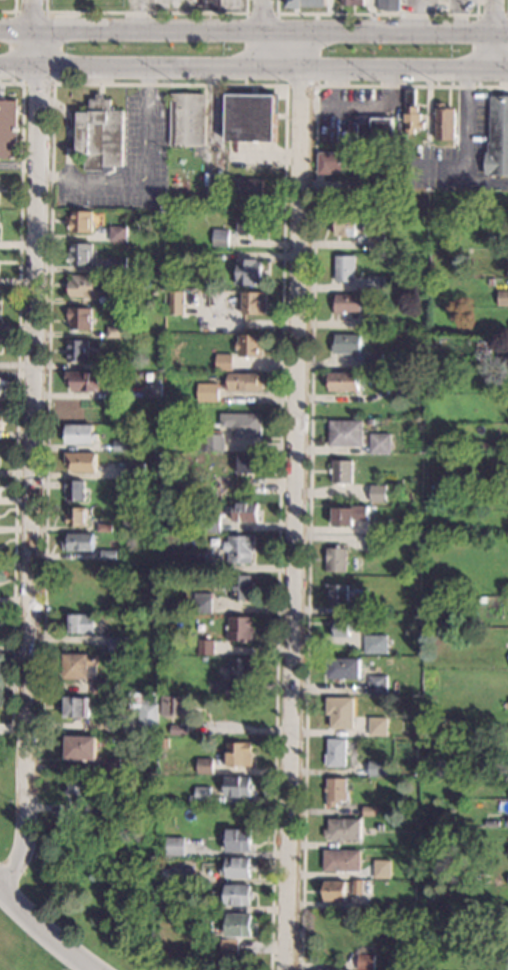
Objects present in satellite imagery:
building: (294, 1)
building: (353, 2)
building: (209, 4)
building: (389, 5)
road: (13, 10)
road: (45, 12)
road: (145, 12)
road: (376, 14)
road: (36, 15)
road: (254, 30)
road: (244, 33)
road: (264, 34)
road: (477, 35)
road: (494, 35)
road: (317, 65)
road: (254, 68)
road: (285, 86)
building: (411, 111)
building: (248, 114)
building: (187, 119)
building: (444, 121)
building: (374, 127)
building: (498, 128)
building: (7, 129)
road: (68, 130)
building: (99, 136)
road: (464, 143)
parking lot: (455, 150)
building: (336, 161)
parking lot: (126, 163)
road: (20, 165)
road: (144, 179)
building: (246, 186)
building: (360, 187)
building: (80, 221)
building: (346, 224)
building: (249, 225)
building: (117, 233)
building: (220, 237)
building: (490, 239)
building: (507, 241)
building: (375, 242)
building: (80, 253)
building: (117, 264)
building: (507, 266)
building: (344, 268)
building: (247, 271)
building: (489, 282)
building: (374, 283)
building: (495, 283)
building: (81, 286)
building: (502, 298)
building: (114, 300)
building: (253, 302)
building: (173, 303)
building: (346, 303)
building: (79, 318)
building: (374, 323)
building: (113, 331)
building: (345, 343)
building: (249, 345)
building: (77, 350)
building: (503, 356)
building: (372, 361)
building: (223, 362)
building: (109, 364)
building: (83, 380)
building: (341, 381)
building: (408, 381)
building: (243, 382)
building: (0, 387)
building: (152, 390)
building: (208, 392)
road: (16, 398)
building: (241, 423)
road: (310, 432)
building: (344, 432)
building: (79, 433)
building: (207, 442)
building: (379, 443)
building: (119, 444)
building: (157, 458)
road: (32, 459)
building: (79, 461)
building: (247, 463)
building: (136, 470)
building: (341, 470)
building: (506, 474)
building: (221, 487)
building: (73, 490)
building: (377, 493)
road: (296, 500)
building: (244, 512)
building: (348, 515)
building: (76, 516)
building: (210, 523)
building: (102, 527)
building: (77, 542)
building: (375, 544)
building: (238, 548)
building: (108, 554)
building: (335, 559)
building: (194, 563)
building: (219, 584)
building: (242, 587)
building: (338, 595)
building: (75, 596)
building: (202, 602)
building: (111, 608)
building: (78, 624)
building: (97, 625)
building: (344, 627)
building: (240, 629)
building: (207, 636)
building: (117, 644)
building: (375, 644)
building: (205, 647)
building: (218, 662)
building: (78, 665)
building: (343, 668)
building: (240, 669)
building: (377, 685)
building: (100, 686)
building: (173, 706)
building: (74, 707)
building: (338, 712)
building: (147, 717)
building: (377, 726)
building: (178, 730)
building: (505, 731)
building: (163, 743)
building: (80, 748)
building: (335, 752)
building: (239, 755)
building: (110, 765)
building: (204, 766)
building: (376, 769)
building: (389, 772)
building: (79, 785)
building: (237, 786)
building: (335, 791)
building: (202, 793)
building: (95, 808)
building: (370, 811)
building: (379, 824)
building: (341, 830)
park: (6, 840)
building: (237, 840)
building: (174, 847)
building: (341, 861)
building: (236, 868)
building: (381, 869)
building: (178, 875)
building: (357, 887)
building: (334, 891)
building: (235, 895)
building: (167, 901)
park: (105, 904)
road: (45, 931)
building: (234, 932)
building: (366, 962)
building: (507, 962)

